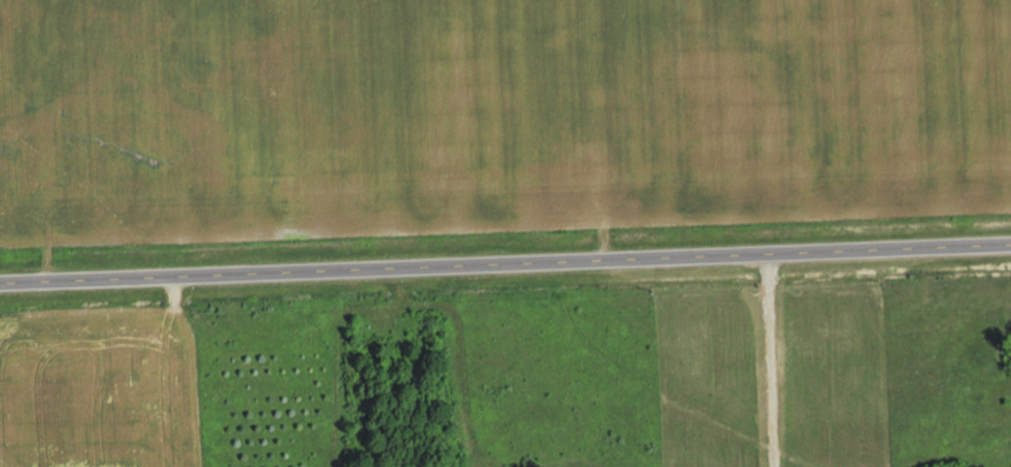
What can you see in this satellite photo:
road: (505, 258)

